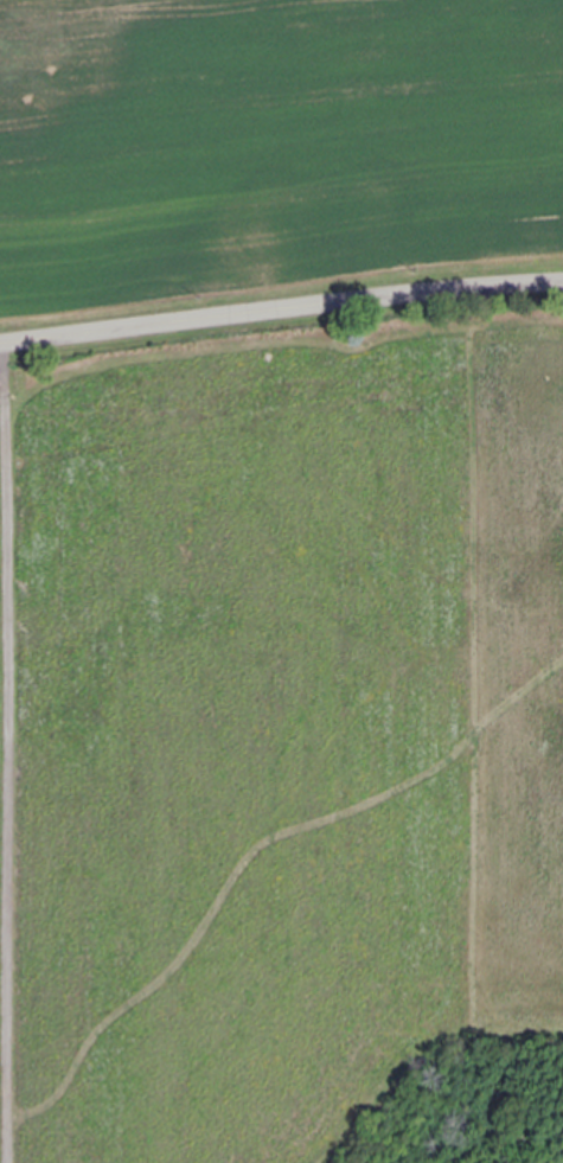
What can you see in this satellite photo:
road: (280, 303)

